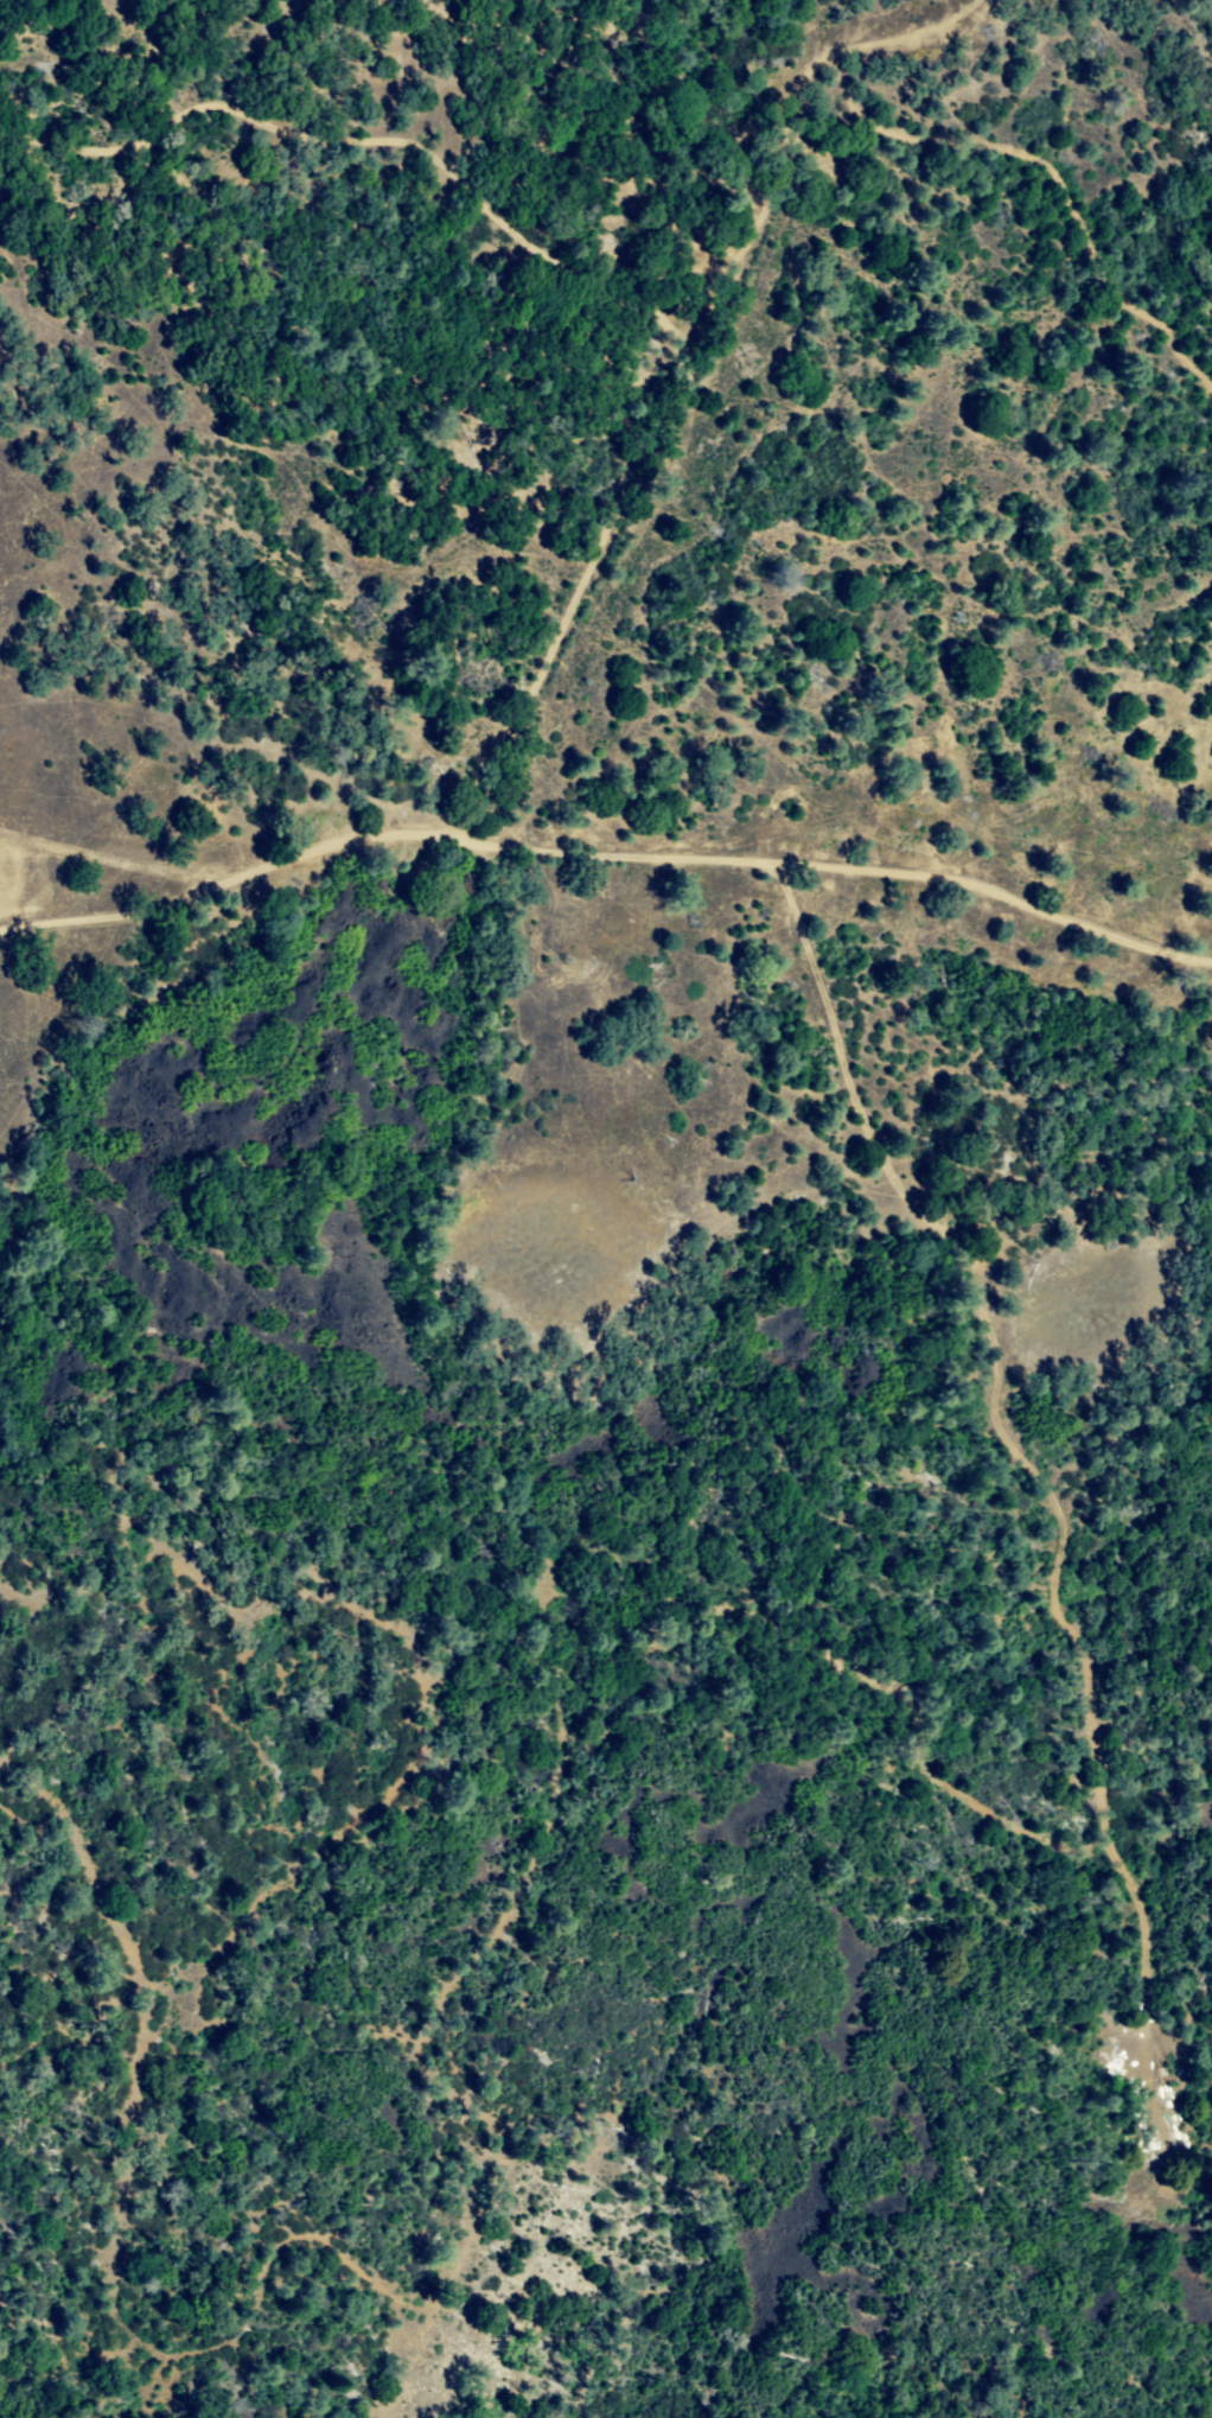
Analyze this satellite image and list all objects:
road: (589, 564)
road: (837, 873)

